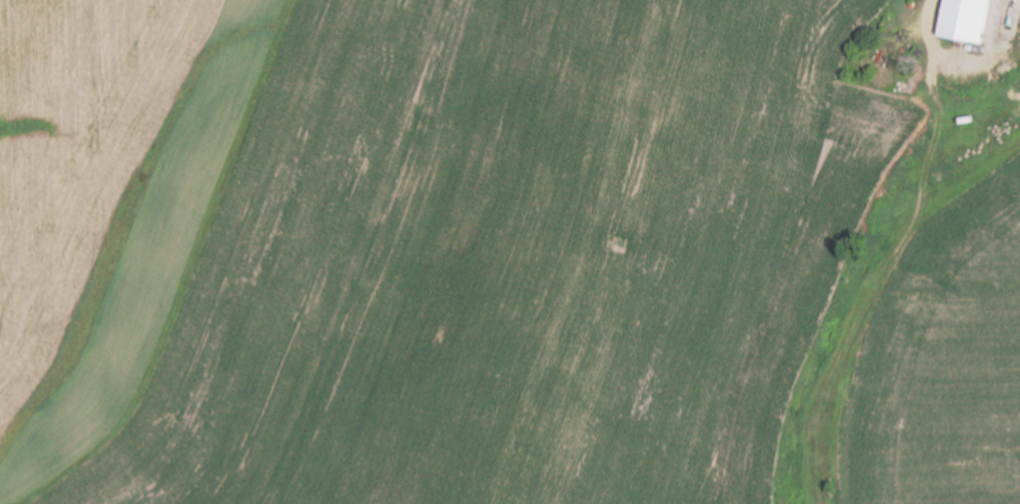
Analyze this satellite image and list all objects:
building: (964, 21)

